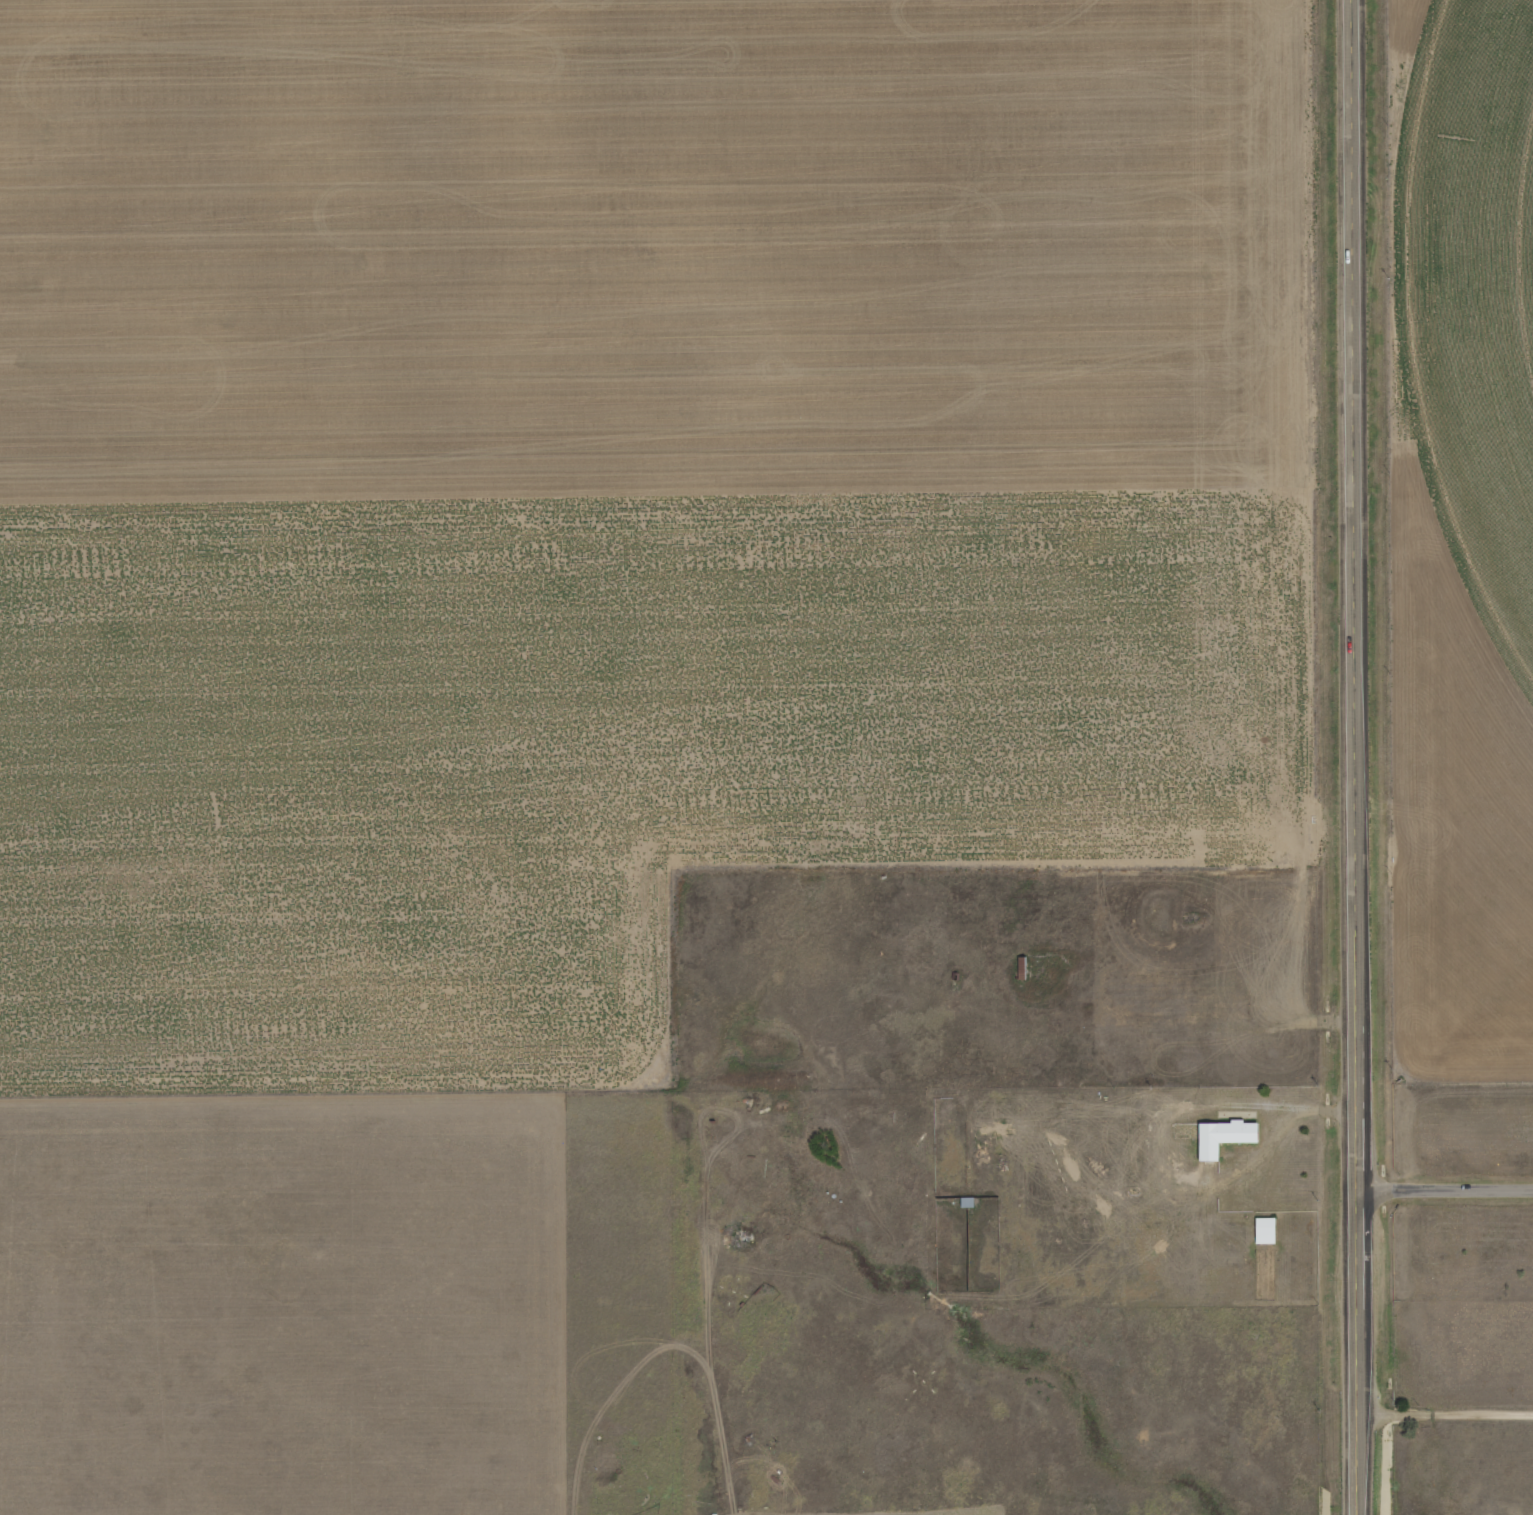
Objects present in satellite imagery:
building: (1353, 124)
building: (1353, 541)
road: (1360, 757)
building: (1021, 968)
building: (1221, 1137)
road: (1447, 1190)
building: (966, 1202)
building: (1264, 1230)
road: (1446, 1412)

